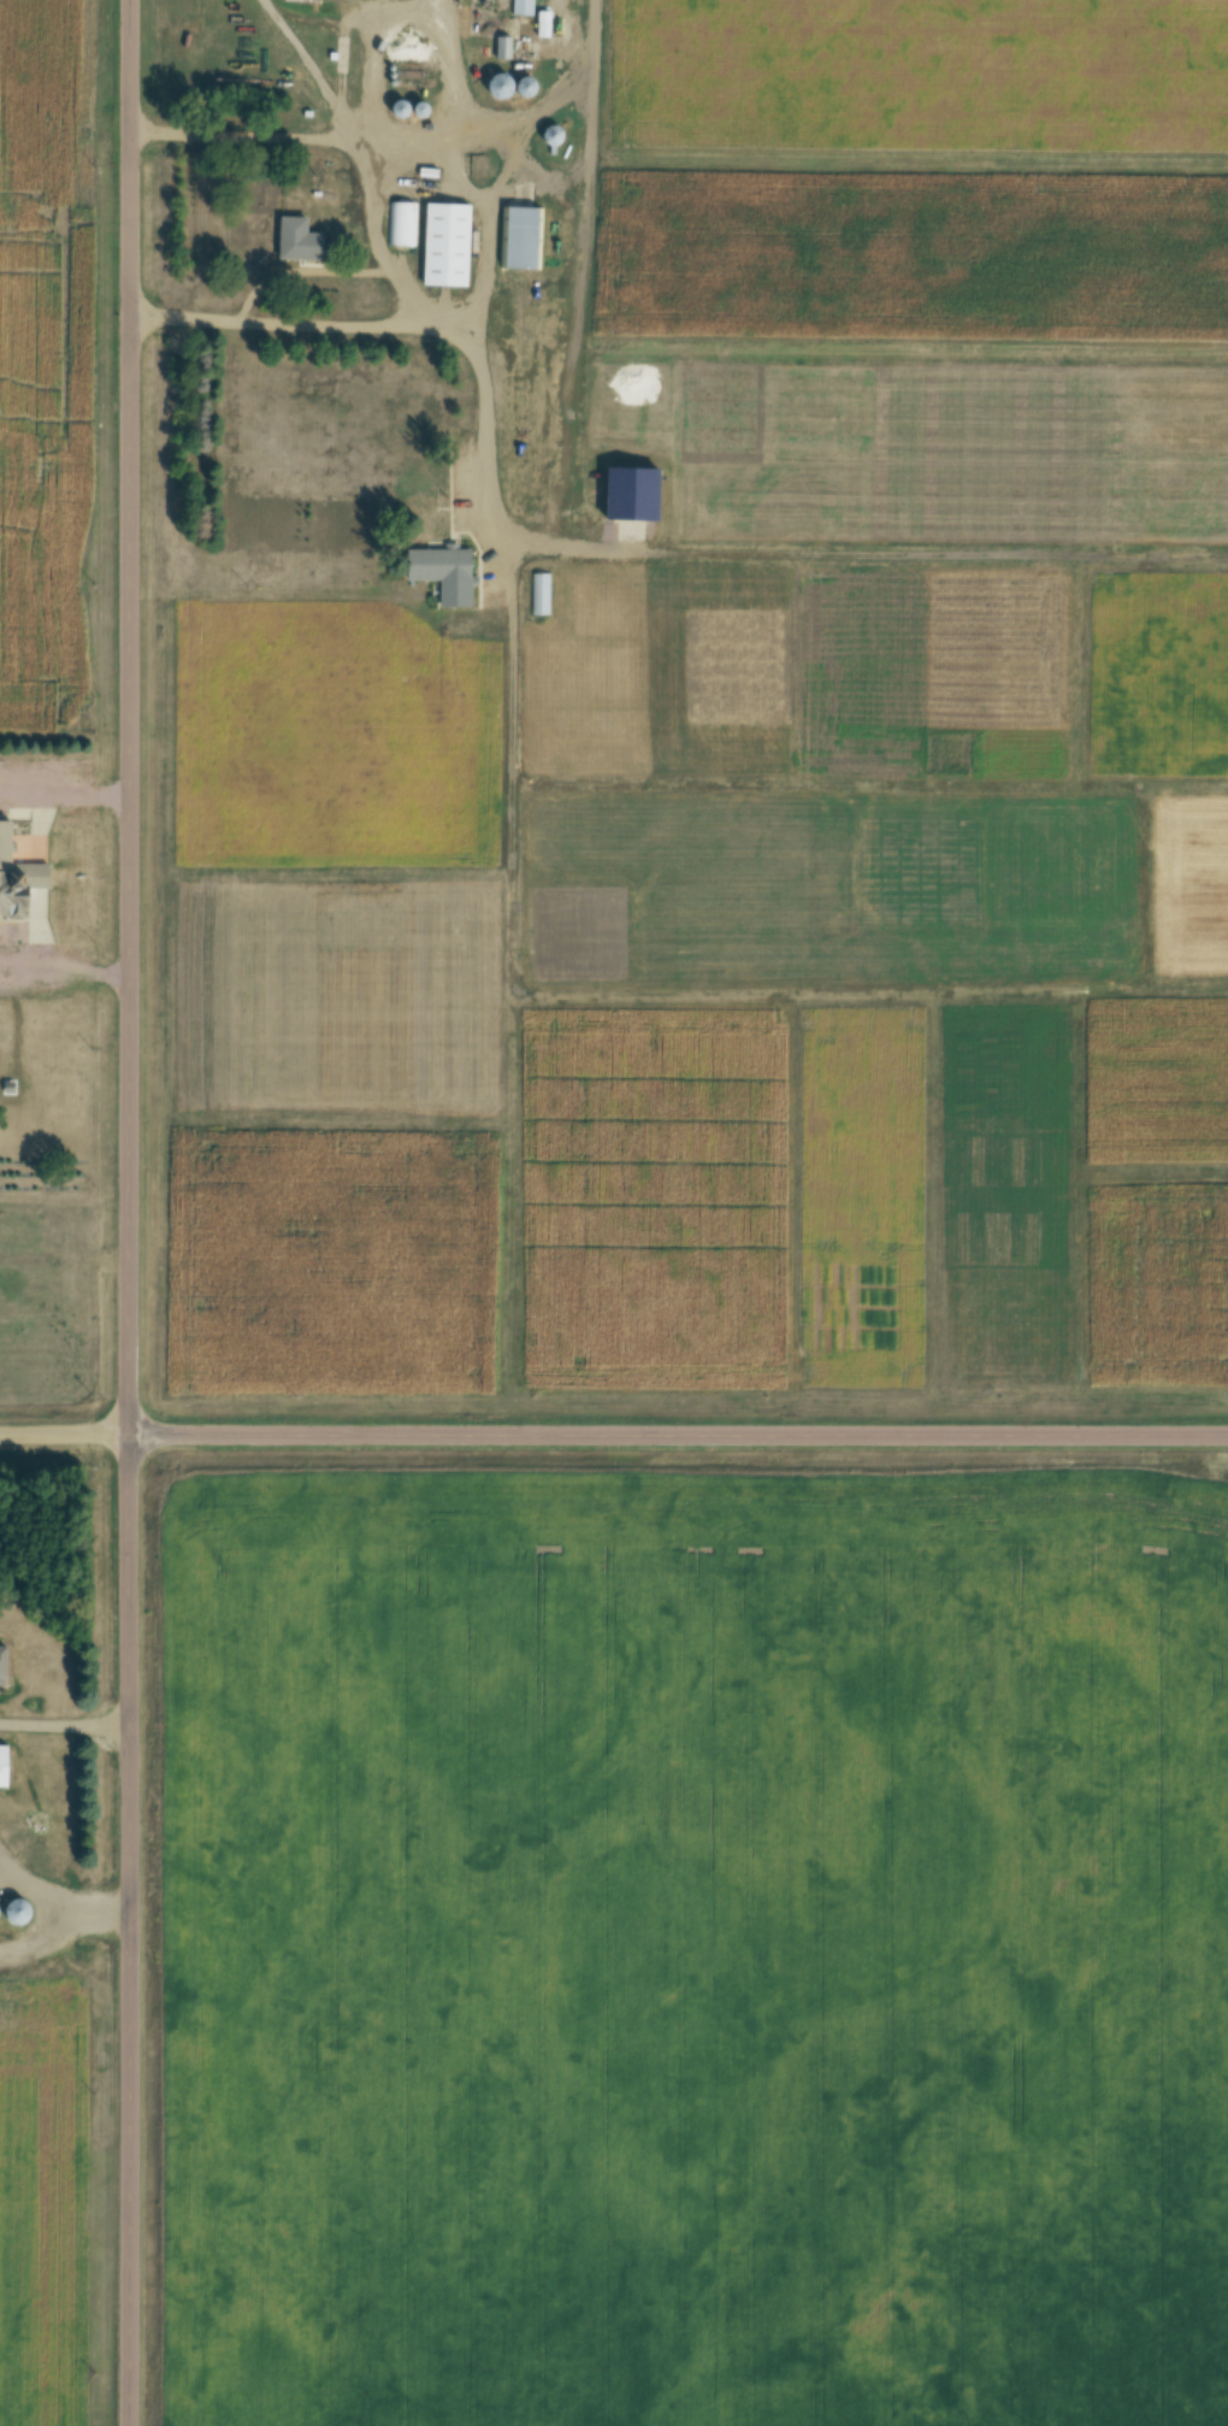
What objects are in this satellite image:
building: (524, 7)
building: (544, 24)
building: (504, 47)
road: (382, 57)
building: (501, 86)
building: (527, 88)
road: (398, 129)
building: (554, 136)
road: (460, 176)
building: (402, 224)
road: (494, 230)
road: (380, 234)
building: (521, 239)
building: (300, 240)
building: (448, 245)
road: (423, 323)
building: (444, 572)
road: (64, 819)
building: (18, 879)
road: (64, 960)
road: (128, 1213)
road: (64, 1431)
road: (677, 1432)
building: (4, 1662)
road: (63, 1724)
building: (5, 1766)
road: (60, 1901)
building: (18, 1914)
road: (42, 1939)

